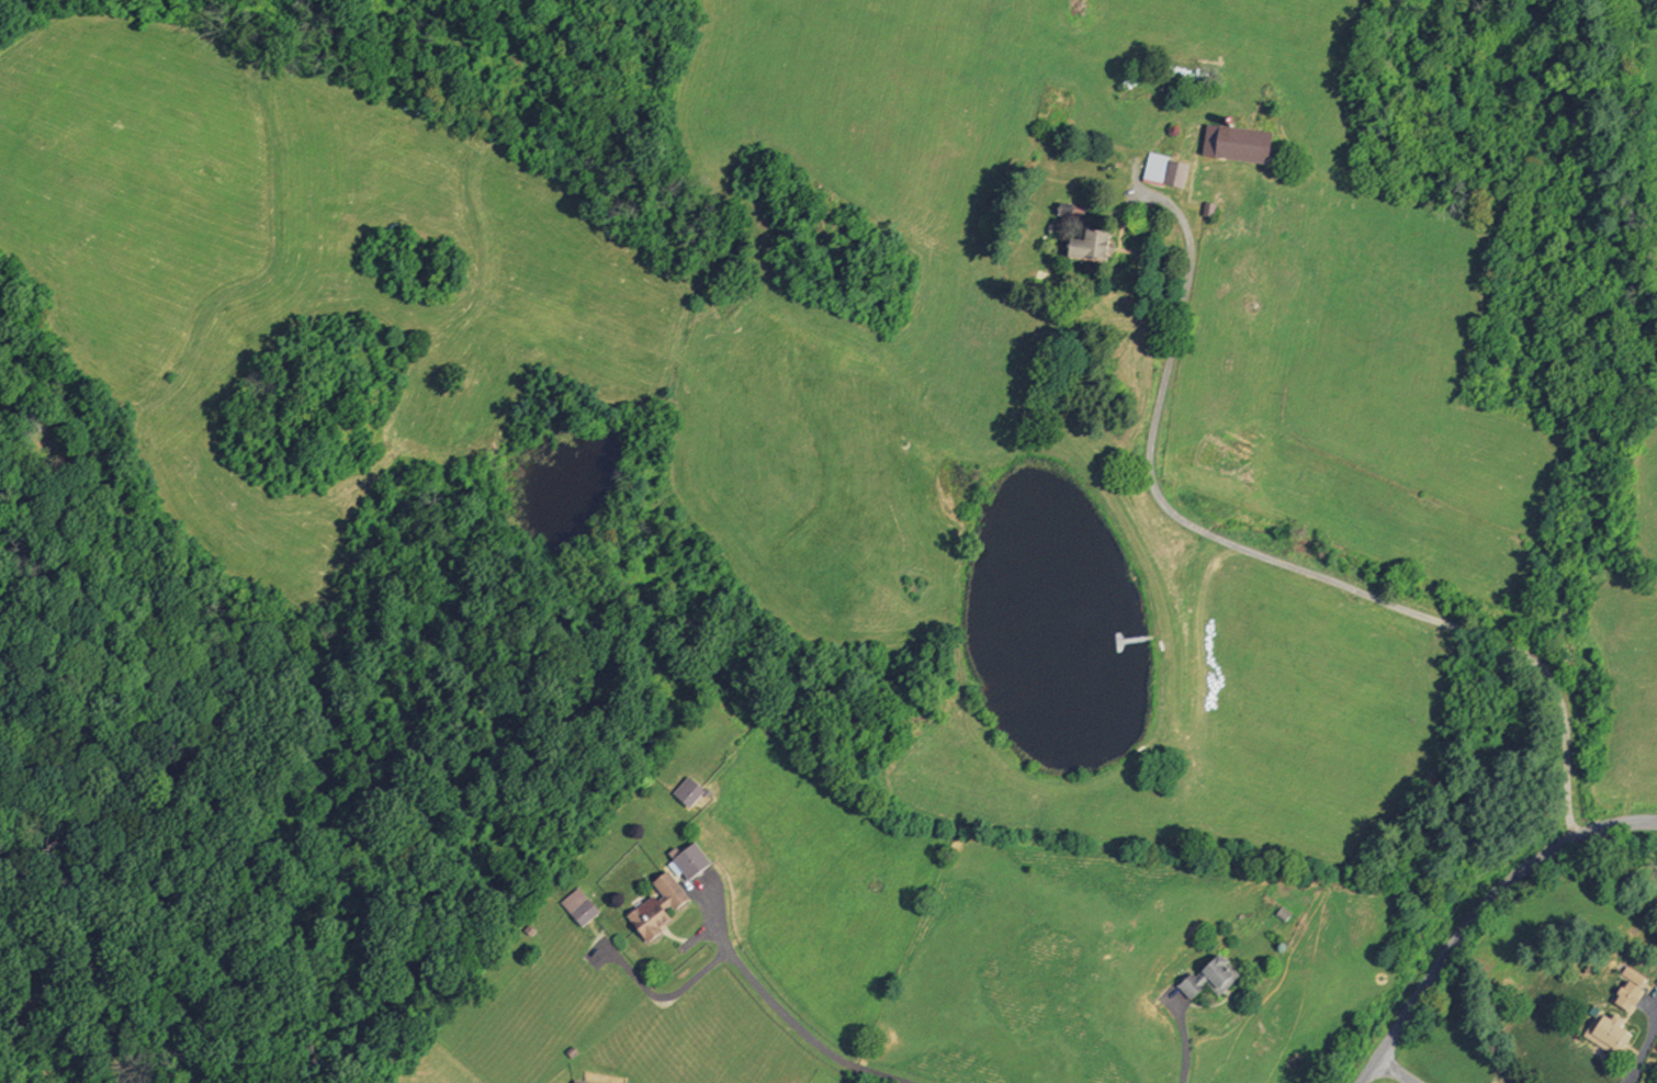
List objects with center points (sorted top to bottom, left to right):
building: (1229, 119)
silo: (1229, 119)
building: (1172, 128)
silo: (1172, 128)
building: (1236, 143)
building: (1164, 170)
building: (1207, 207)
building: (1087, 245)
road: (1278, 561)
building: (690, 791)
building: (691, 861)
building: (578, 906)
building: (658, 906)
road: (1476, 911)
building: (1209, 977)
building: (1633, 977)
building: (1628, 996)
road: (780, 1011)
building: (1609, 1031)
road: (1183, 1038)
road: (1641, 1053)
road: (1389, 1071)
building: (578, 1082)

